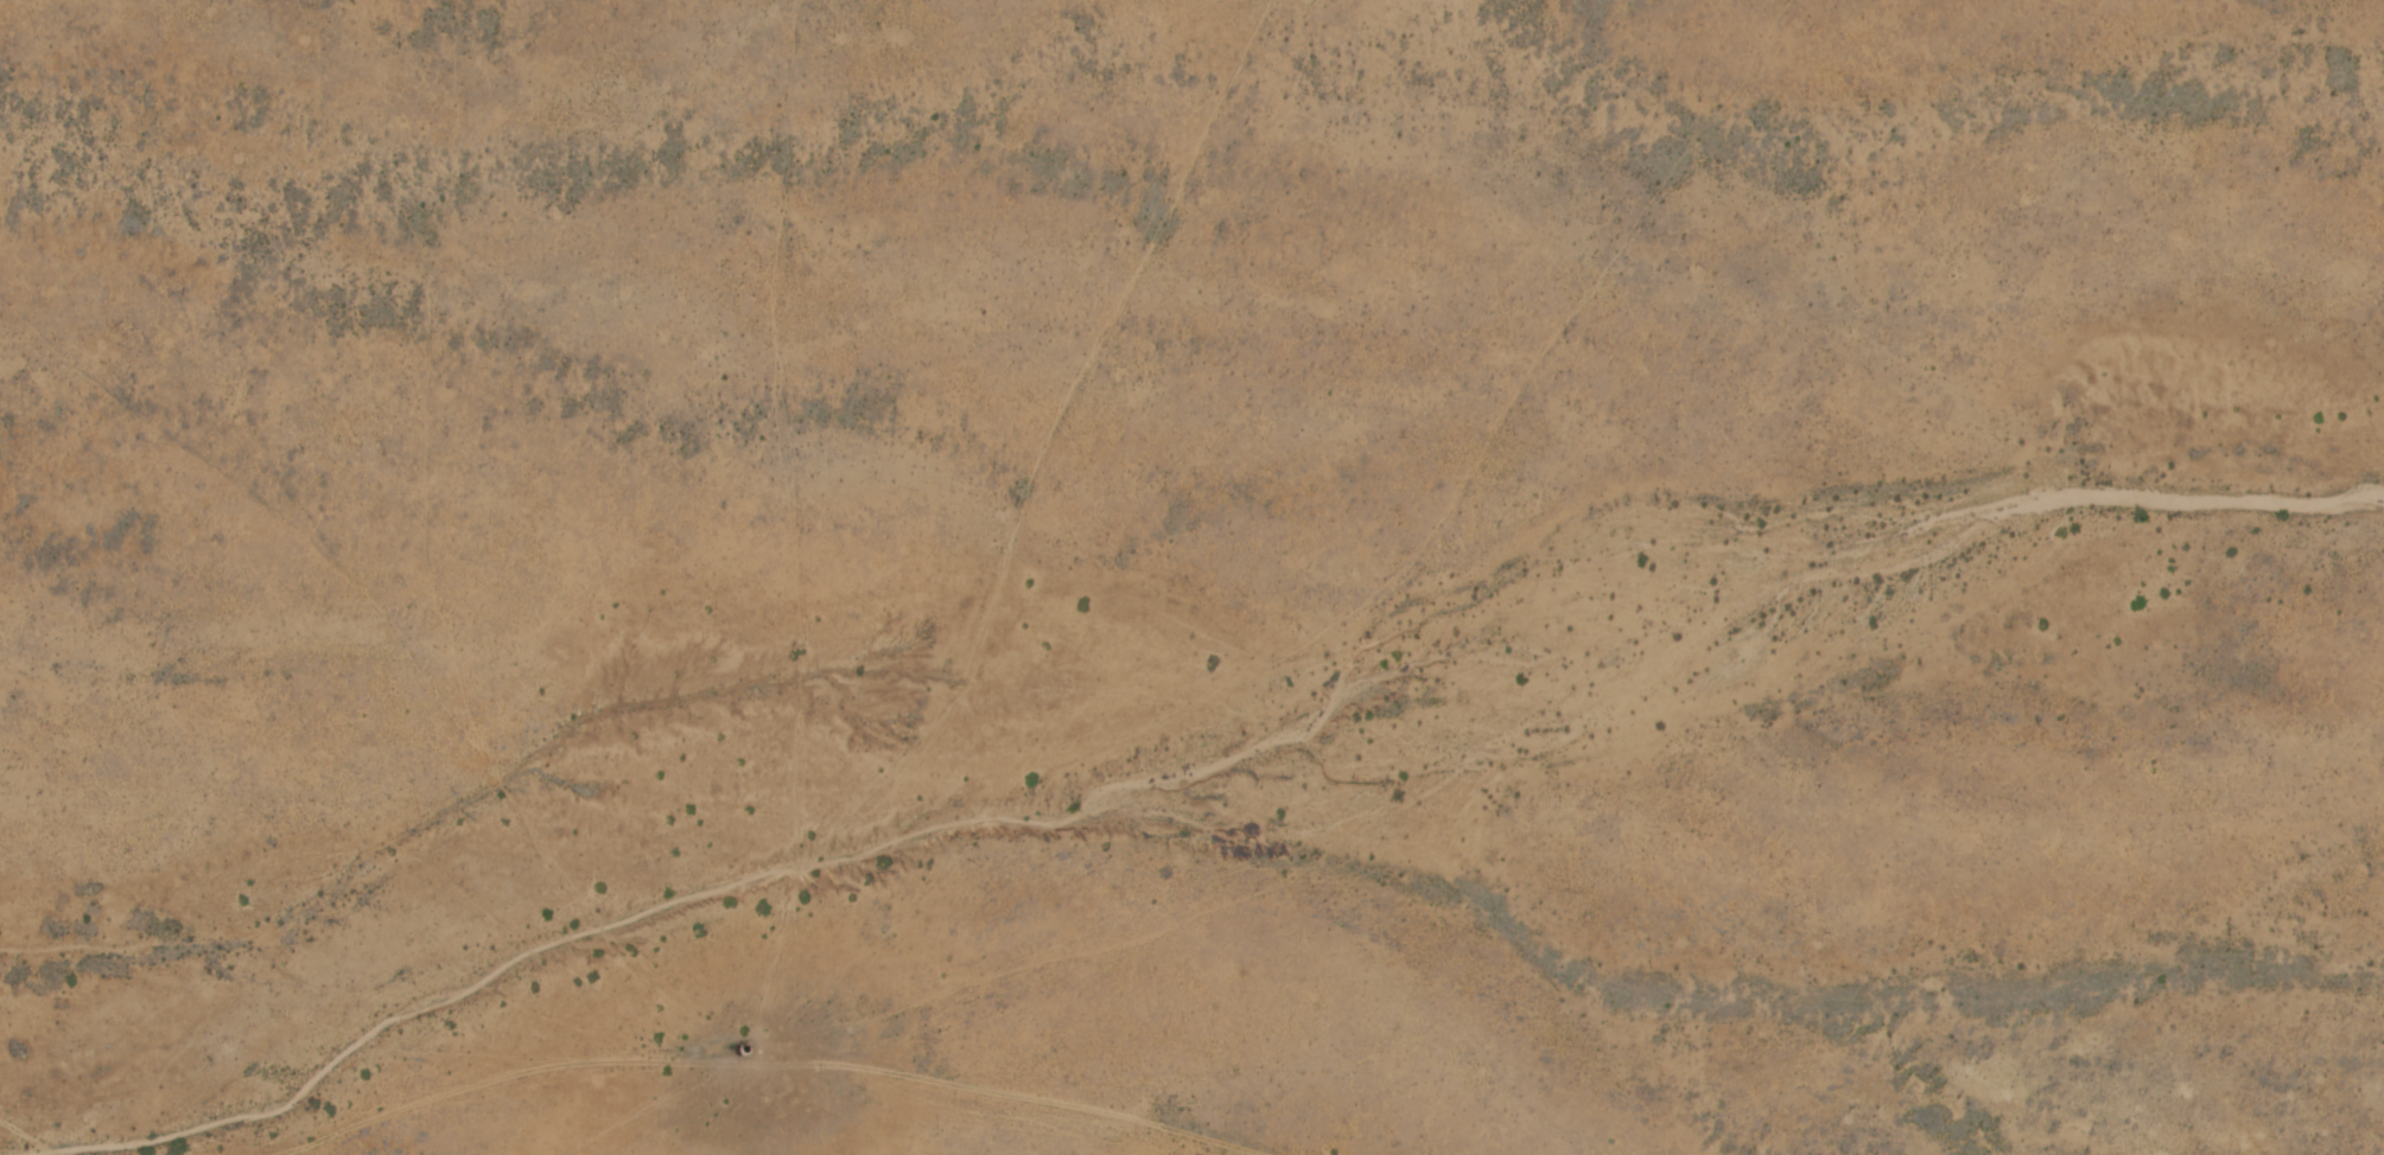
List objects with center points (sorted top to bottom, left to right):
building: (745, 1047)
storage tank: (745, 1047)

